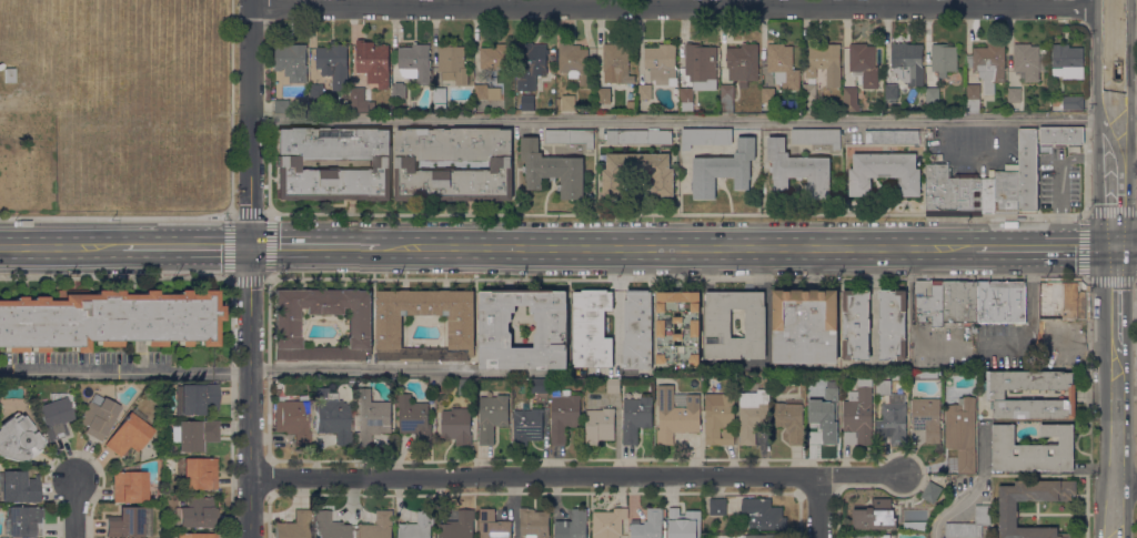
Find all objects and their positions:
road: (1115, 2)
road: (682, 4)
road: (1115, 29)
building: (496, 57)
building: (944, 58)
building: (531, 60)
building: (1027, 60)
building: (291, 61)
building: (573, 61)
building: (1066, 61)
building: (373, 62)
building: (415, 62)
building: (661, 62)
building: (907, 62)
building: (333, 63)
building: (616, 63)
building: (742, 63)
building: (452, 64)
building: (988, 64)
building: (783, 65)
building: (863, 65)
building: (822, 68)
building: (698, 69)
road: (1115, 73)
building: (9, 75)
building: (399, 90)
building: (645, 91)
building: (891, 91)
building: (316, 92)
building: (486, 92)
road: (1126, 93)
building: (440, 94)
building: (604, 94)
building: (767, 94)
building: (932, 94)
building: (1014, 94)
building: (727, 97)
building: (973, 98)
building: (851, 99)
building: (359, 100)
building: (527, 102)
building: (565, 102)
building: (1073, 102)
building: (631, 105)
building: (282, 106)
road: (683, 120)
building: (1060, 135)
building: (571, 136)
building: (638, 136)
building: (705, 136)
building: (817, 136)
building: (892, 136)
parking lot: (973, 150)
building: (332, 164)
building: (407, 164)
building: (724, 169)
building: (797, 169)
building: (1027, 169)
road: (1115, 169)
building: (552, 170)
building: (883, 172)
building: (990, 172)
building: (638, 173)
parking lot: (1059, 175)
building: (942, 187)
building: (1006, 190)
building: (976, 193)
road: (675, 214)
road: (222, 215)
road: (1084, 245)
traffic signals: (1115, 245)
road: (1126, 245)
road: (61, 246)
road: (185, 246)
traffic signals: (251, 247)
road: (315, 247)
road: (747, 247)
road: (250, 268)
road: (162, 276)
road: (1015, 276)
road: (265, 277)
road: (395, 277)
road: (748, 277)
road: (1114, 293)
building: (1059, 300)
building: (928, 301)
building: (1000, 301)
building: (959, 302)
road: (1125, 308)
building: (108, 319)
building: (717, 322)
building: (856, 322)
building: (891, 322)
building: (804, 323)
building: (285, 324)
building: (551, 324)
building: (690, 325)
building: (591, 326)
building: (389, 328)
building: (637, 328)
road: (1050, 343)
road: (1126, 367)
road: (237, 372)
building: (926, 375)
building: (540, 385)
building: (613, 385)
building: (465, 386)
building: (883, 387)
building: (996, 394)
building: (195, 399)
building: (601, 400)
building: (676, 413)
building: (564, 414)
building: (858, 414)
building: (56, 415)
building: (753, 415)
building: (371, 416)
building: (492, 416)
building: (635, 416)
building: (98, 417)
building: (331, 417)
building: (927, 417)
building: (720, 418)
building: (825, 418)
building: (415, 419)
building: (791, 419)
building: (292, 420)
building: (893, 422)
building: (456, 425)
building: (600, 425)
building: (527, 426)
building: (129, 435)
building: (193, 435)
building: (960, 435)
building: (18, 439)
road: (1116, 439)
building: (1033, 449)
building: (171, 466)
building: (199, 474)
road: (580, 476)
road: (1127, 483)
building: (130, 486)
building: (18, 487)
building: (930, 491)
road: (954, 505)
building: (1008, 505)
building: (717, 506)
road: (818, 507)
road: (74, 508)
building: (197, 514)
building: (763, 514)
building: (875, 515)
building: (909, 516)
building: (22, 521)
building: (534, 522)
building: (608, 522)
building: (125, 524)
building: (684, 524)
building: (493, 525)
building: (572, 525)
building: (648, 525)
building: (969, 525)
building: (331, 526)
building: (378, 526)
building: (417, 526)
building: (459, 526)
building: (915, 526)
building: (293, 527)
building: (193, 536)
building: (763, 536)
building: (869, 536)

